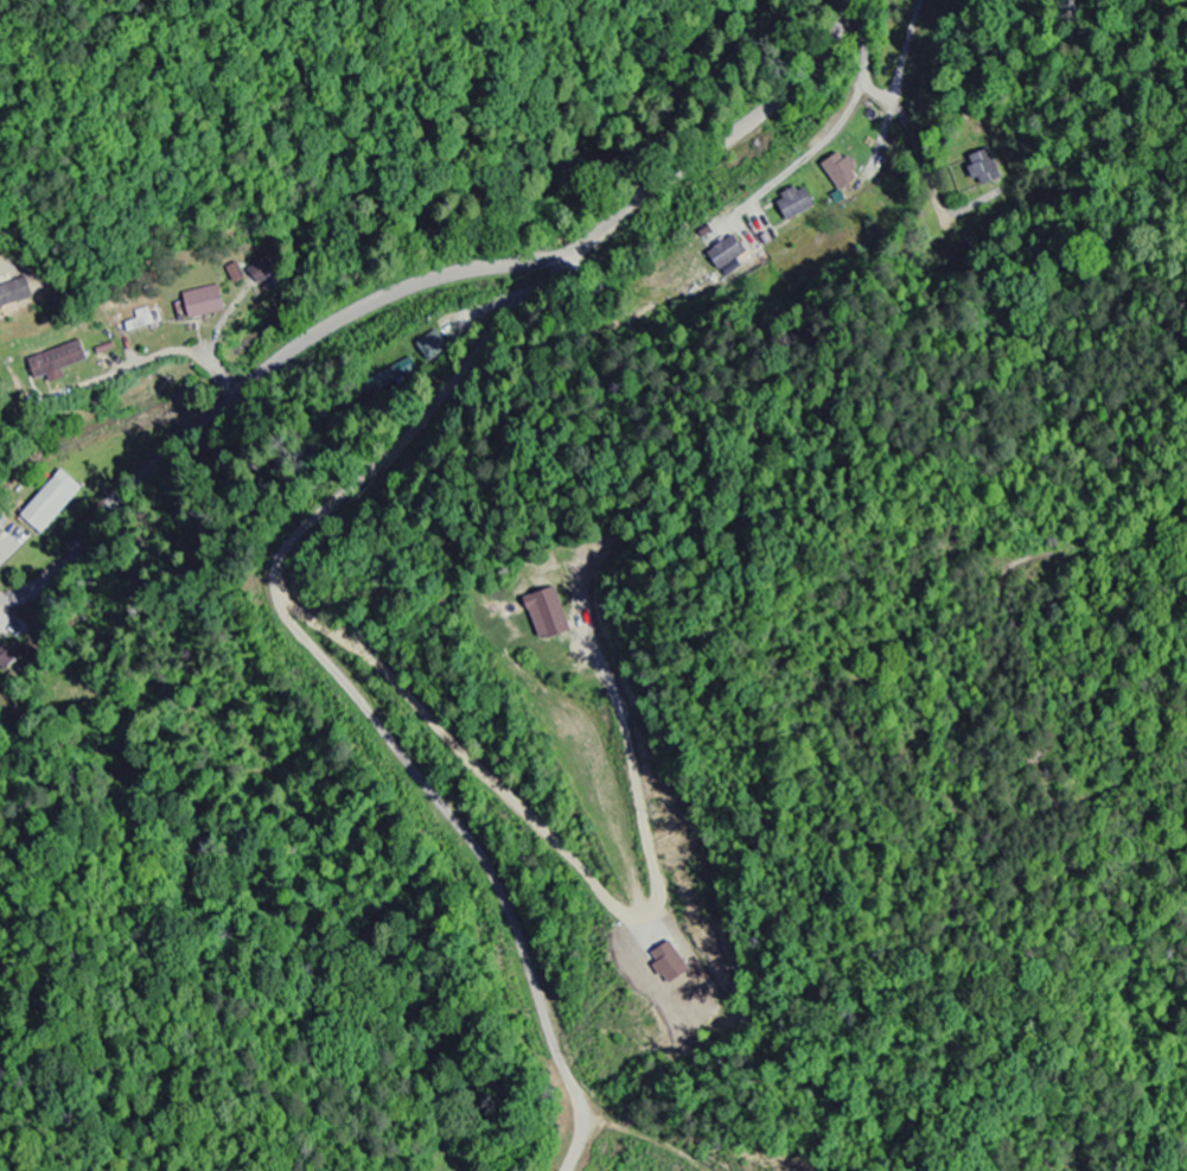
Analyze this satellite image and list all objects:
road: (847, 113)
building: (982, 168)
building: (837, 172)
building: (793, 205)
building: (725, 254)
building: (260, 272)
building: (234, 274)
road: (409, 286)
building: (13, 293)
building: (202, 304)
building: (55, 363)
building: (51, 504)
building: (544, 616)
building: (6, 660)
road: (343, 676)

